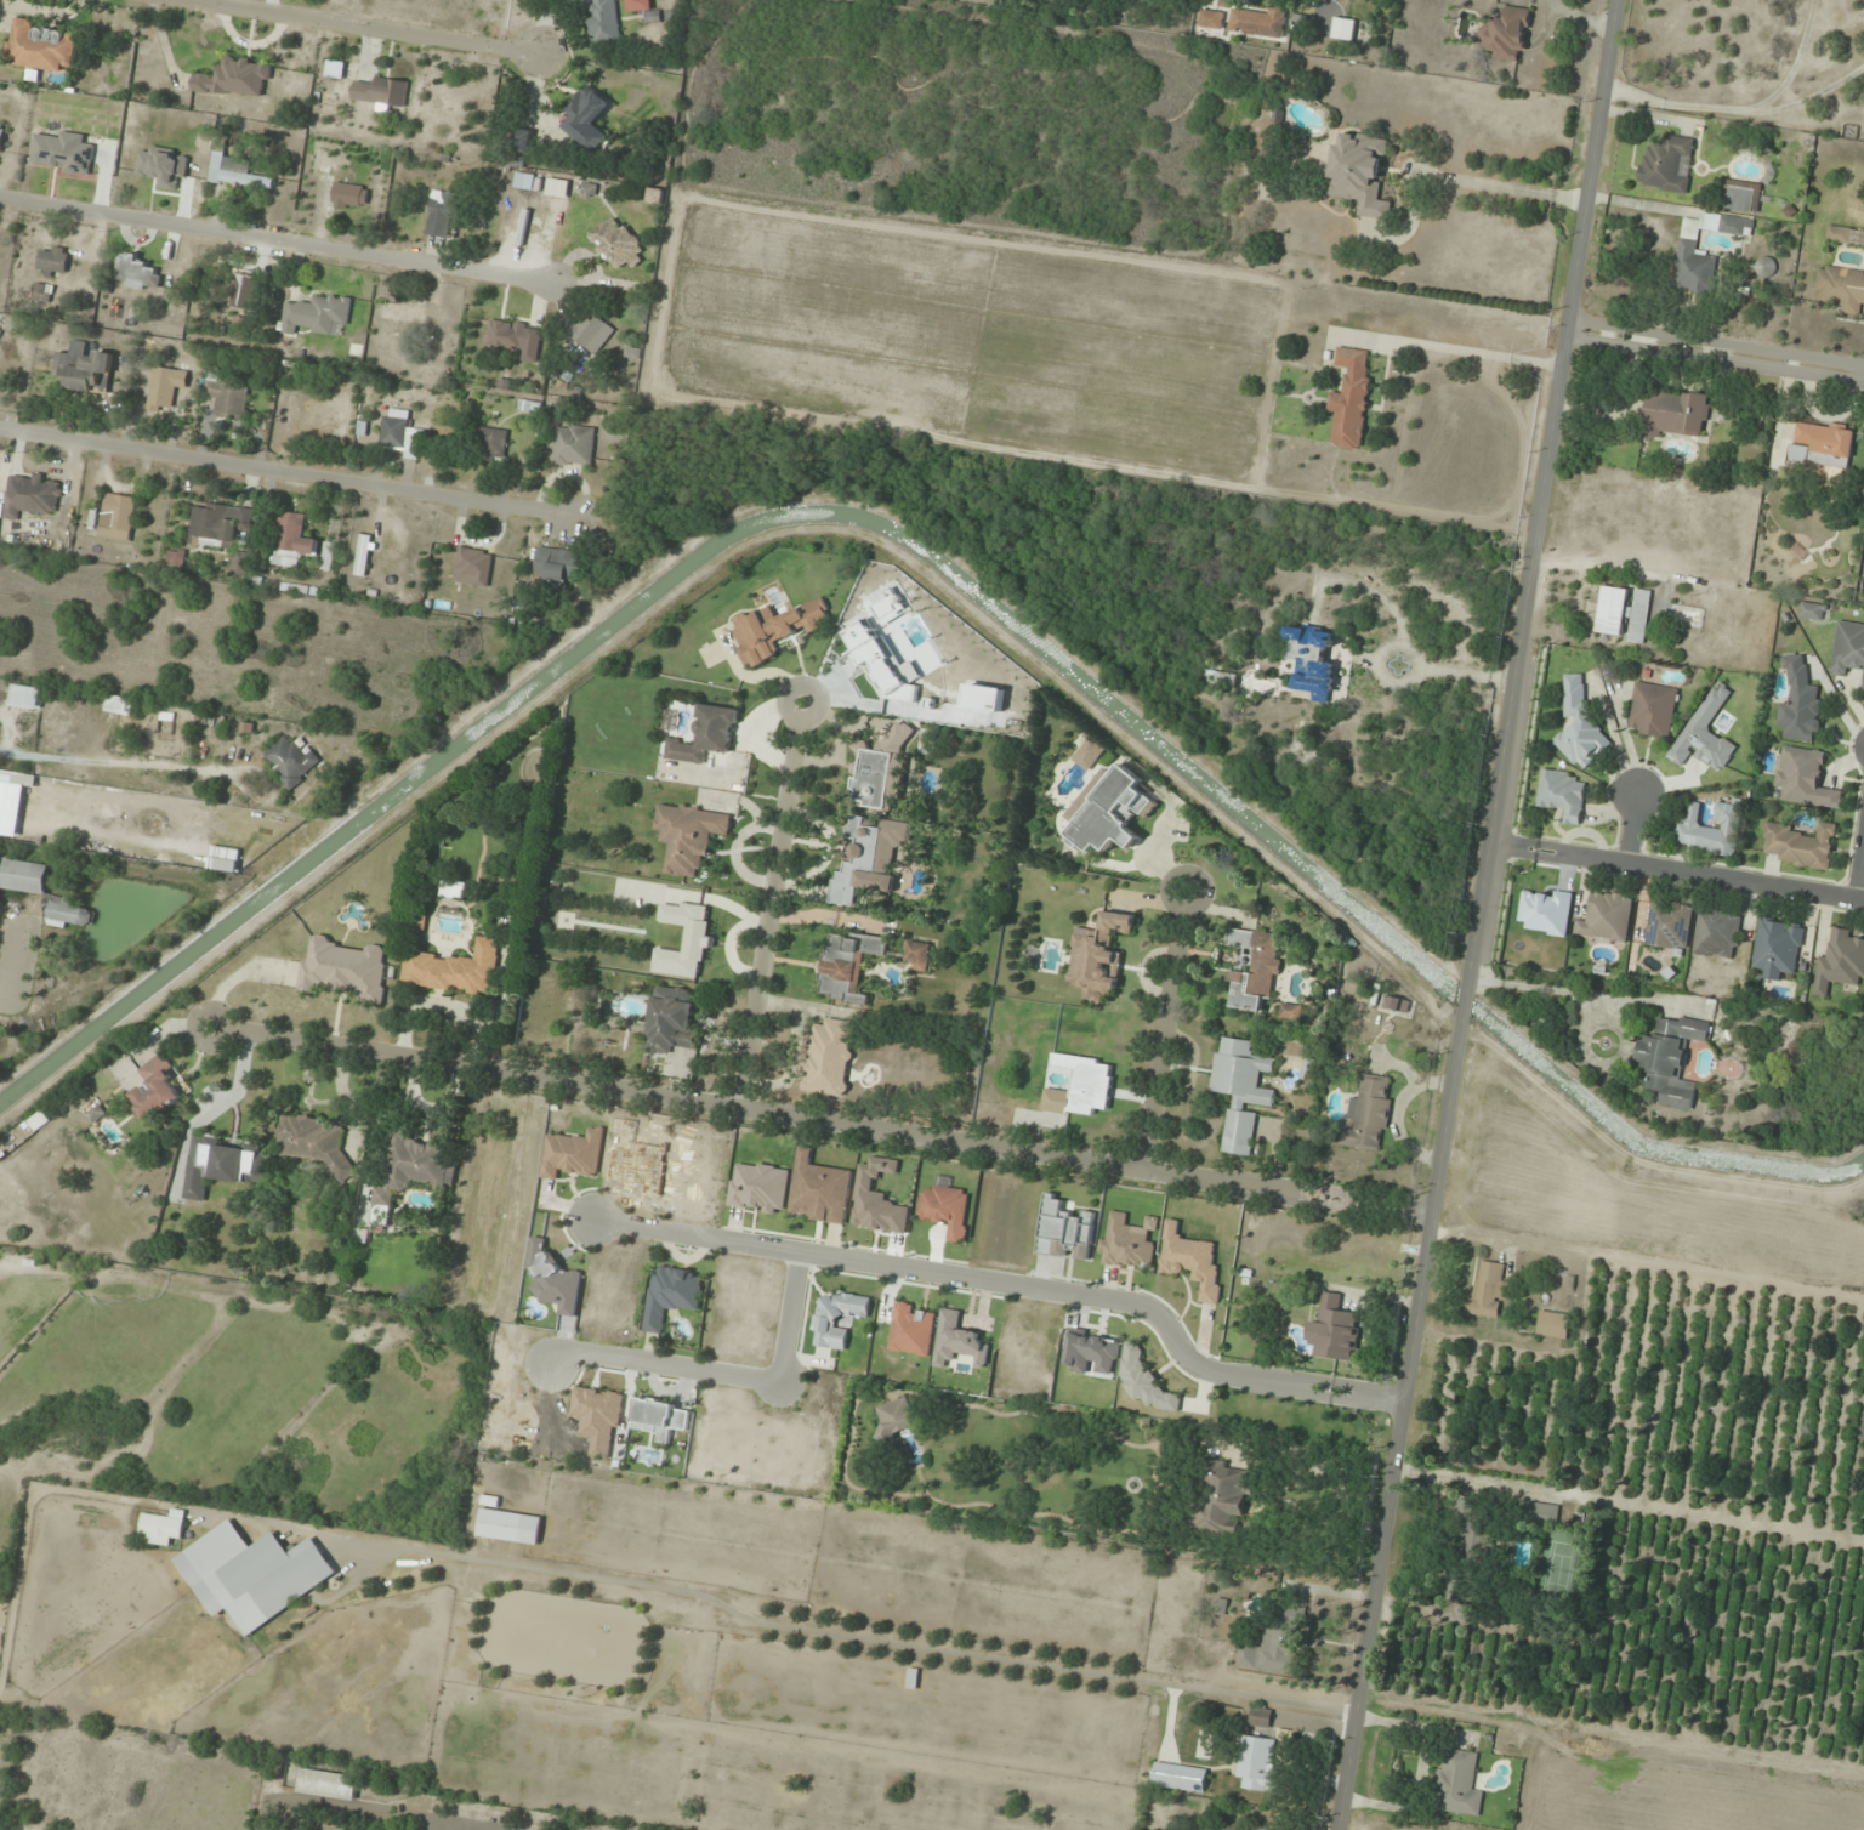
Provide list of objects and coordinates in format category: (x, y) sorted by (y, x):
building: (638, 6)
building: (1211, 19)
building: (604, 21)
building: (1261, 21)
building: (1343, 29)
road: (336, 30)
building: (1506, 35)
building: (41, 46)
building: (235, 78)
building: (381, 90)
road: (1738, 110)
building: (589, 118)
building: (1, 133)
building: (524, 141)
building: (328, 164)
building: (1667, 164)
building: (1359, 172)
building: (238, 174)
building: (349, 195)
building: (1743, 197)
building: (442, 212)
building: (1845, 235)
building: (618, 243)
road: (274, 244)
building: (1693, 254)
building: (52, 261)
building: (1766, 267)
building: (140, 272)
building: (1840, 289)
building: (244, 290)
building: (41, 292)
building: (402, 312)
building: (317, 314)
building: (592, 331)
building: (516, 336)
road: (1716, 342)
building: (85, 370)
building: (166, 385)
building: (1351, 397)
building: (228, 398)
building: (532, 405)
building: (1676, 413)
building: (290, 417)
building: (398, 433)
building: (493, 442)
building: (1822, 444)
building: (574, 445)
road: (291, 473)
building: (32, 494)
road: (1539, 511)
building: (118, 517)
building: (218, 524)
building: (292, 540)
building: (364, 555)
building: (329, 556)
building: (176, 557)
building: (559, 564)
building: (473, 567)
building: (1812, 610)
building: (1625, 613)
building: (775, 629)
building: (1848, 648)
building: (1312, 659)
building: (1800, 703)
building: (119, 704)
building: (1653, 709)
building: (1581, 726)
building: (706, 735)
building: (290, 760)
building: (880, 771)
building: (1805, 778)
building: (1562, 795)
building: (1110, 809)
road: (1630, 828)
building: (1711, 829)
building: (689, 835)
building: (1801, 845)
building: (869, 858)
road: (1676, 871)
building: (25, 875)
road: (1860, 875)
road: (769, 905)
building: (70, 913)
building: (1607, 916)
building: (1669, 925)
building: (1717, 932)
building: (684, 939)
building: (1778, 947)
building: (917, 955)
building: (1098, 956)
building: (1841, 961)
building: (847, 965)
building: (1254, 967)
building: (455, 968)
building: (345, 970)
building: (1291, 1011)
building: (672, 1018)
road: (1164, 1031)
building: (829, 1056)
building: (1671, 1059)
building: (1081, 1086)
building: (157, 1089)
building: (1241, 1090)
building: (1369, 1114)
road: (818, 1119)
building: (317, 1141)
building: (223, 1164)
building: (413, 1169)
building: (820, 1190)
building: (877, 1199)
building: (947, 1209)
building: (1065, 1231)
building: (1126, 1243)
road: (959, 1277)
building: (1488, 1291)
building: (672, 1295)
building: (837, 1318)
building: (1553, 1324)
building: (1335, 1330)
road: (726, 1376)
building: (1147, 1383)
road: (1301, 1386)
road: (1377, 1398)
building: (660, 1417)
building: (897, 1417)
road: (1396, 1425)
building: (1224, 1496)
building: (1491, 1524)
building: (510, 1527)
building: (164, 1528)
building: (254, 1574)
building: (1271, 1650)
building: (1261, 1717)
building: (1260, 1763)
building: (328, 1784)
building: (1457, 1784)
road: (349, 1811)
building: (1243, 1828)

